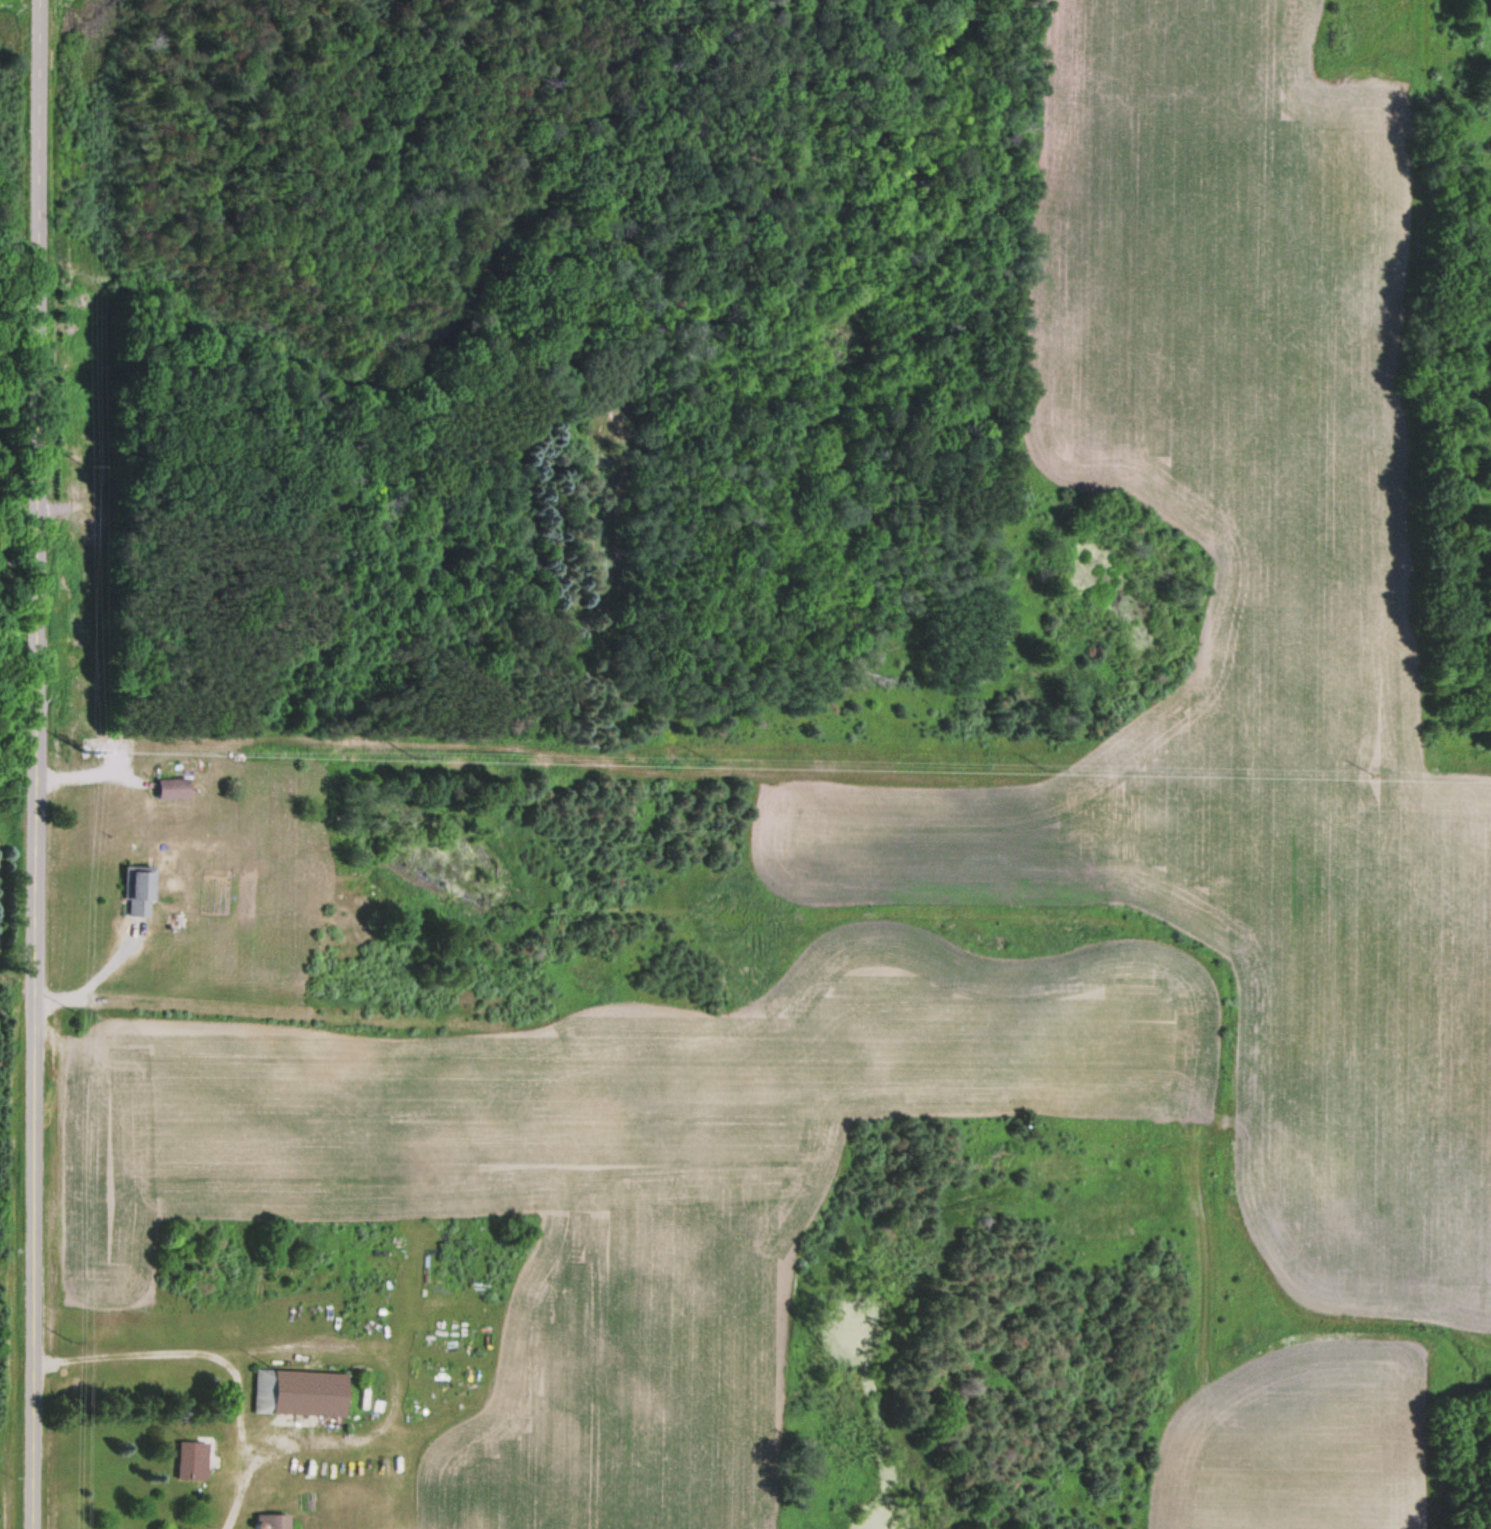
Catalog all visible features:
power tower: (81, 749)
road: (35, 764)
building: (172, 787)
building: (139, 889)
building: (299, 1392)
building: (191, 1459)
building: (271, 1521)

